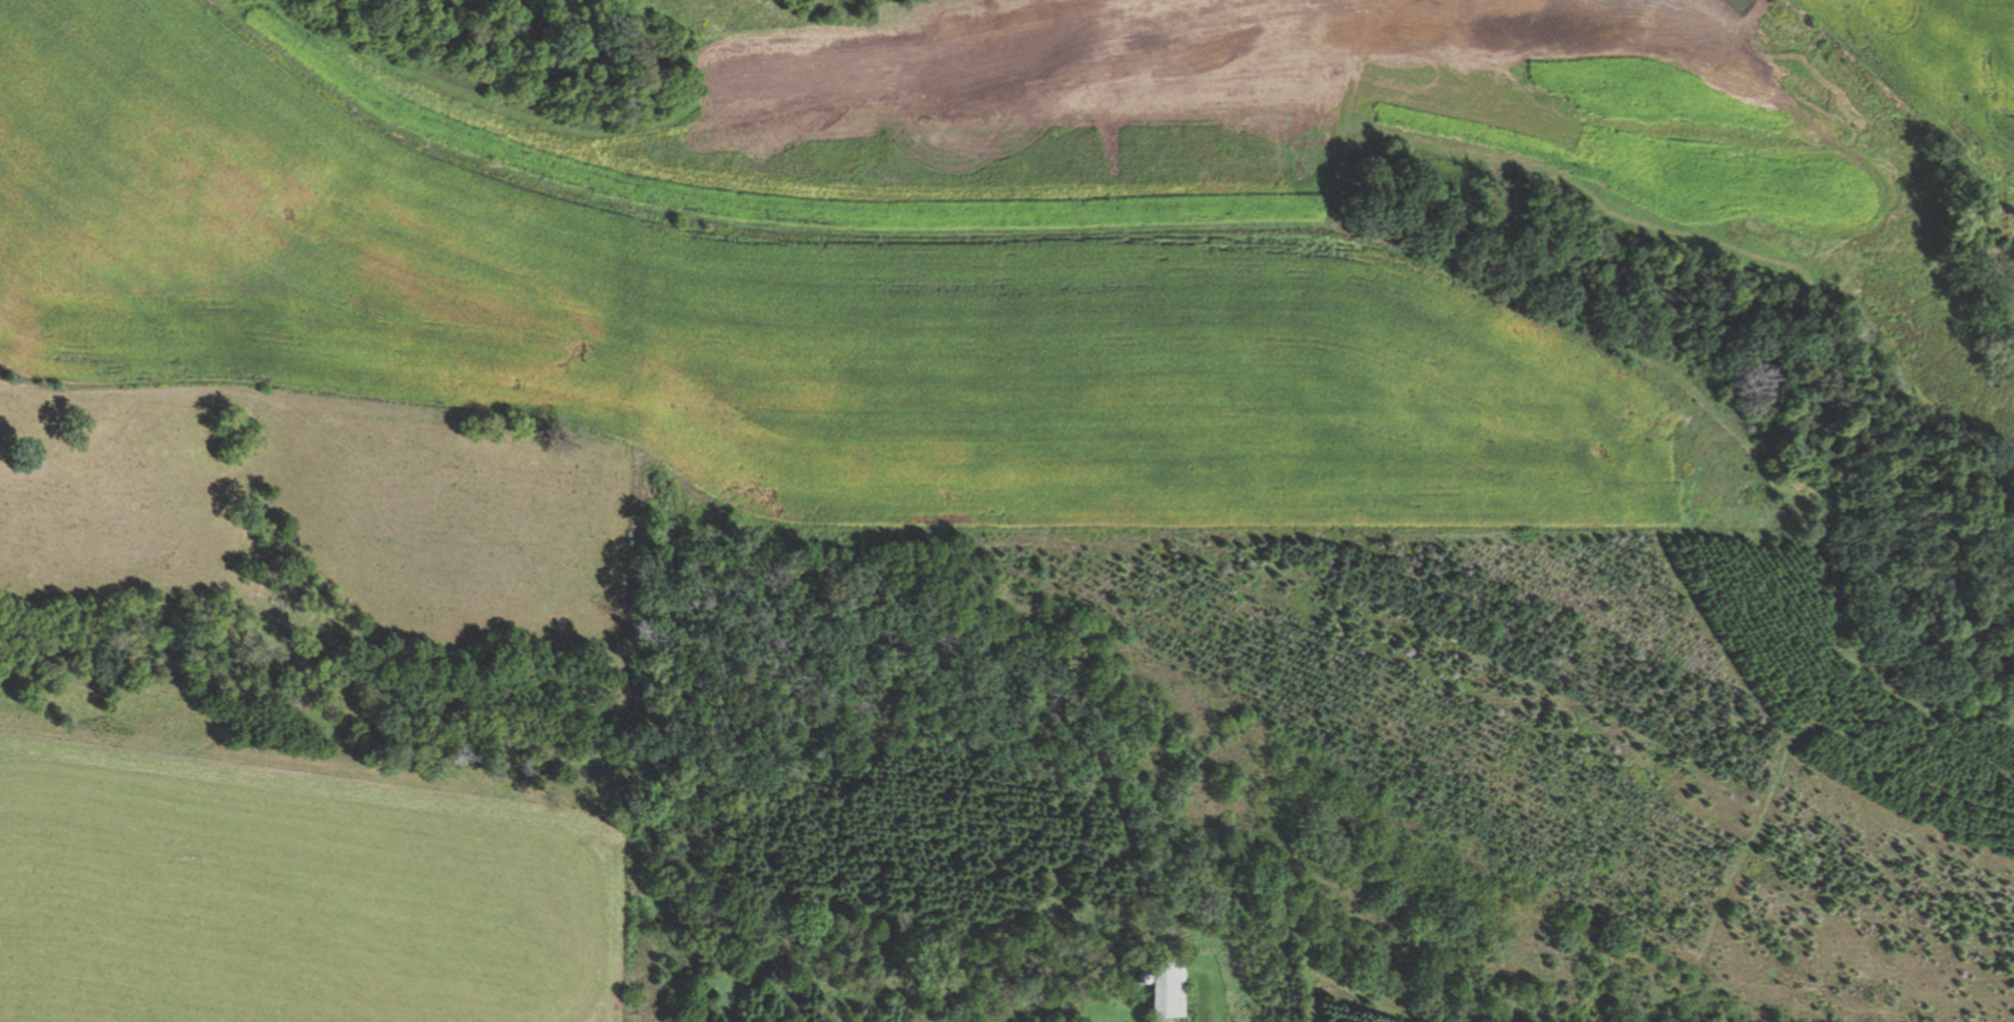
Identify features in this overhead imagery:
building: (1170, 986)

